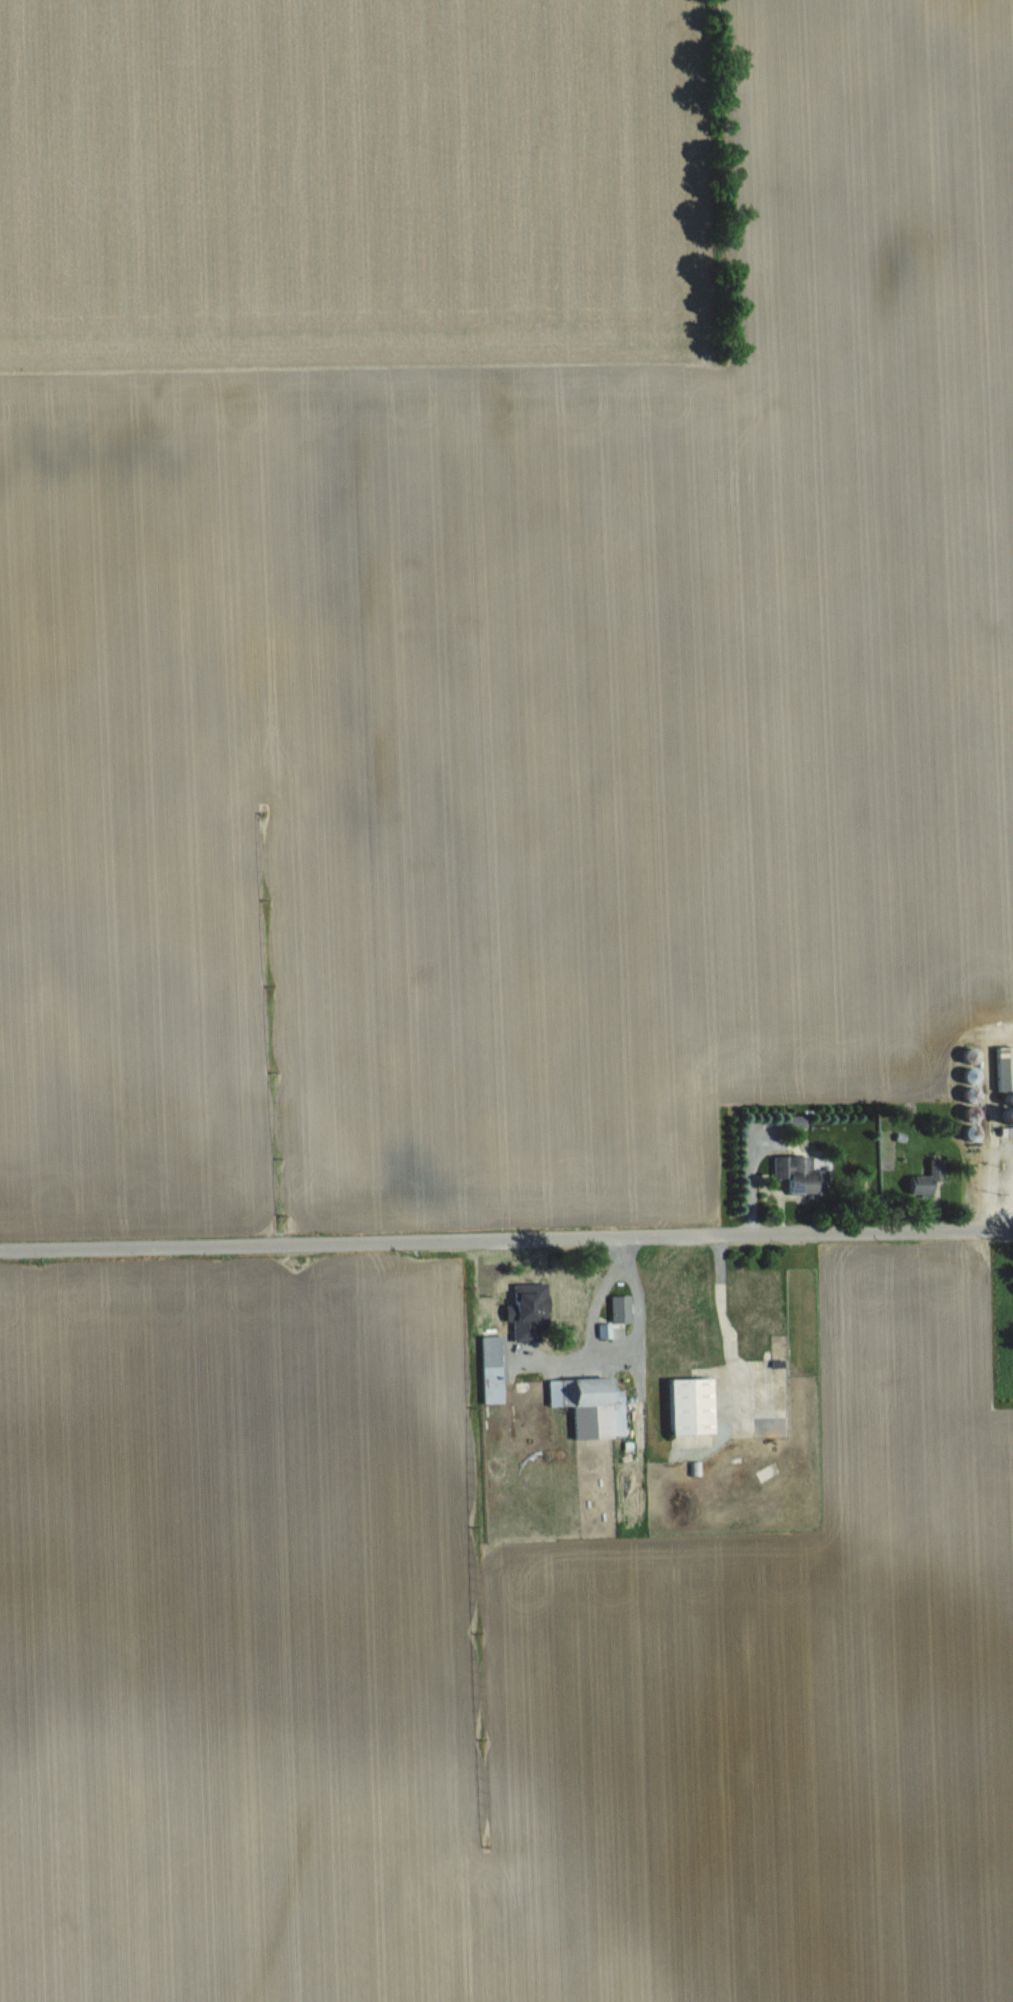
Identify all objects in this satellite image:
building: (1004, 1081)
building: (794, 1175)
building: (923, 1179)
road: (506, 1239)
building: (614, 1313)
building: (489, 1369)
building: (588, 1405)
building: (687, 1405)

